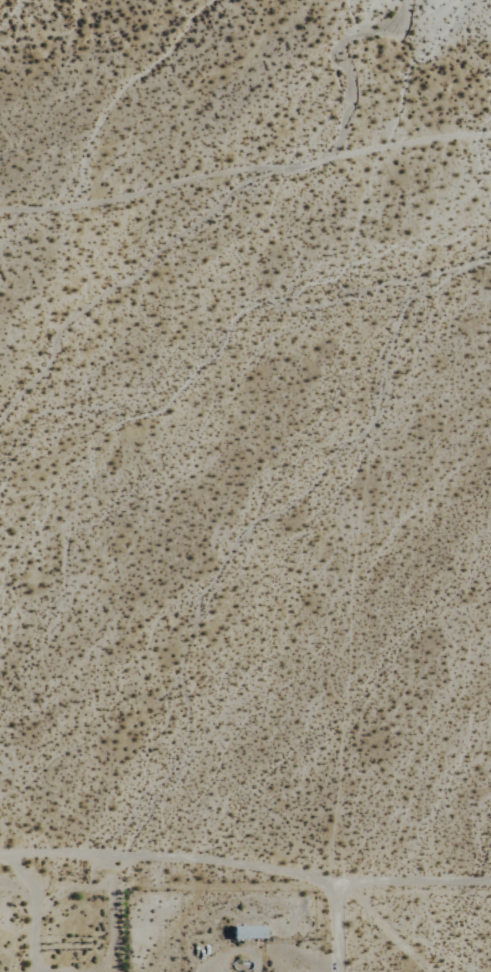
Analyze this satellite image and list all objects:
road: (245, 866)
road: (350, 919)

